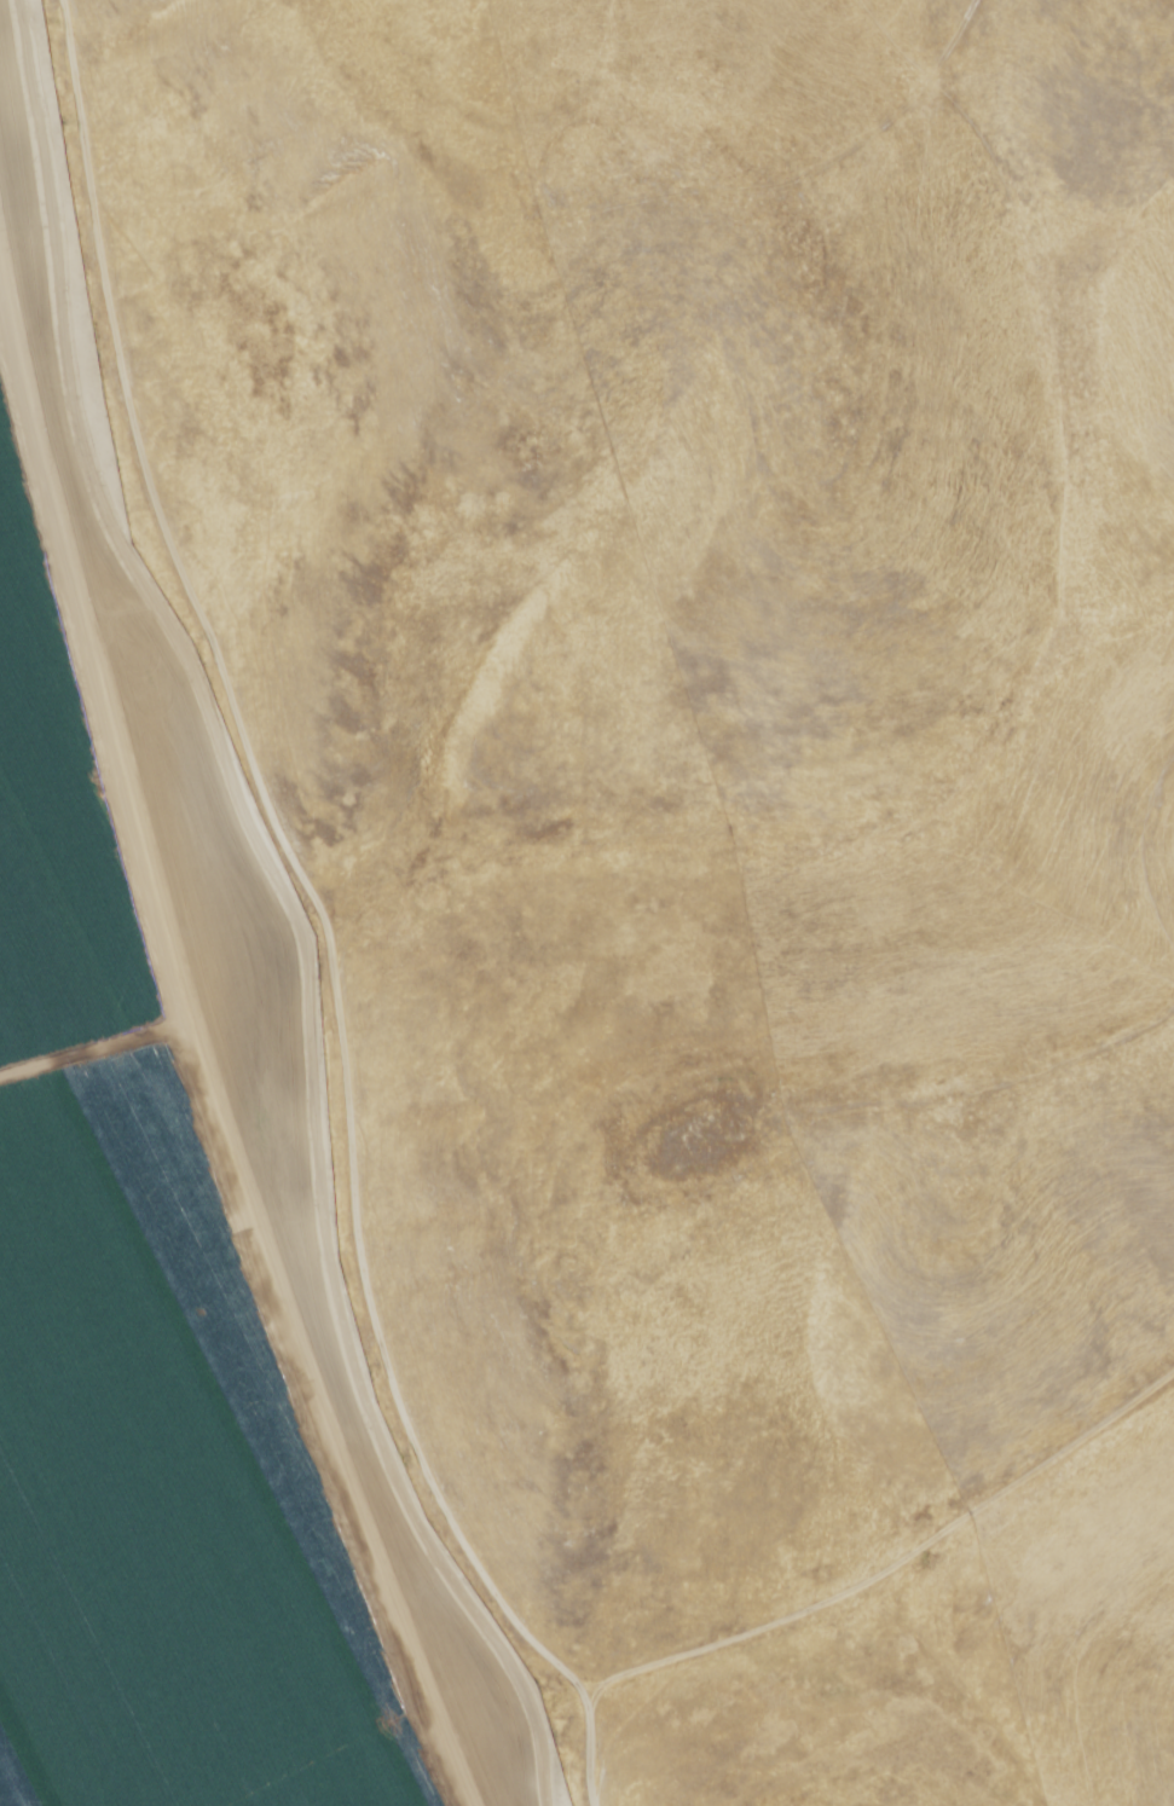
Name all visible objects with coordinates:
road: (274, 919)
crop: (129, 1380)
road: (921, 1541)

